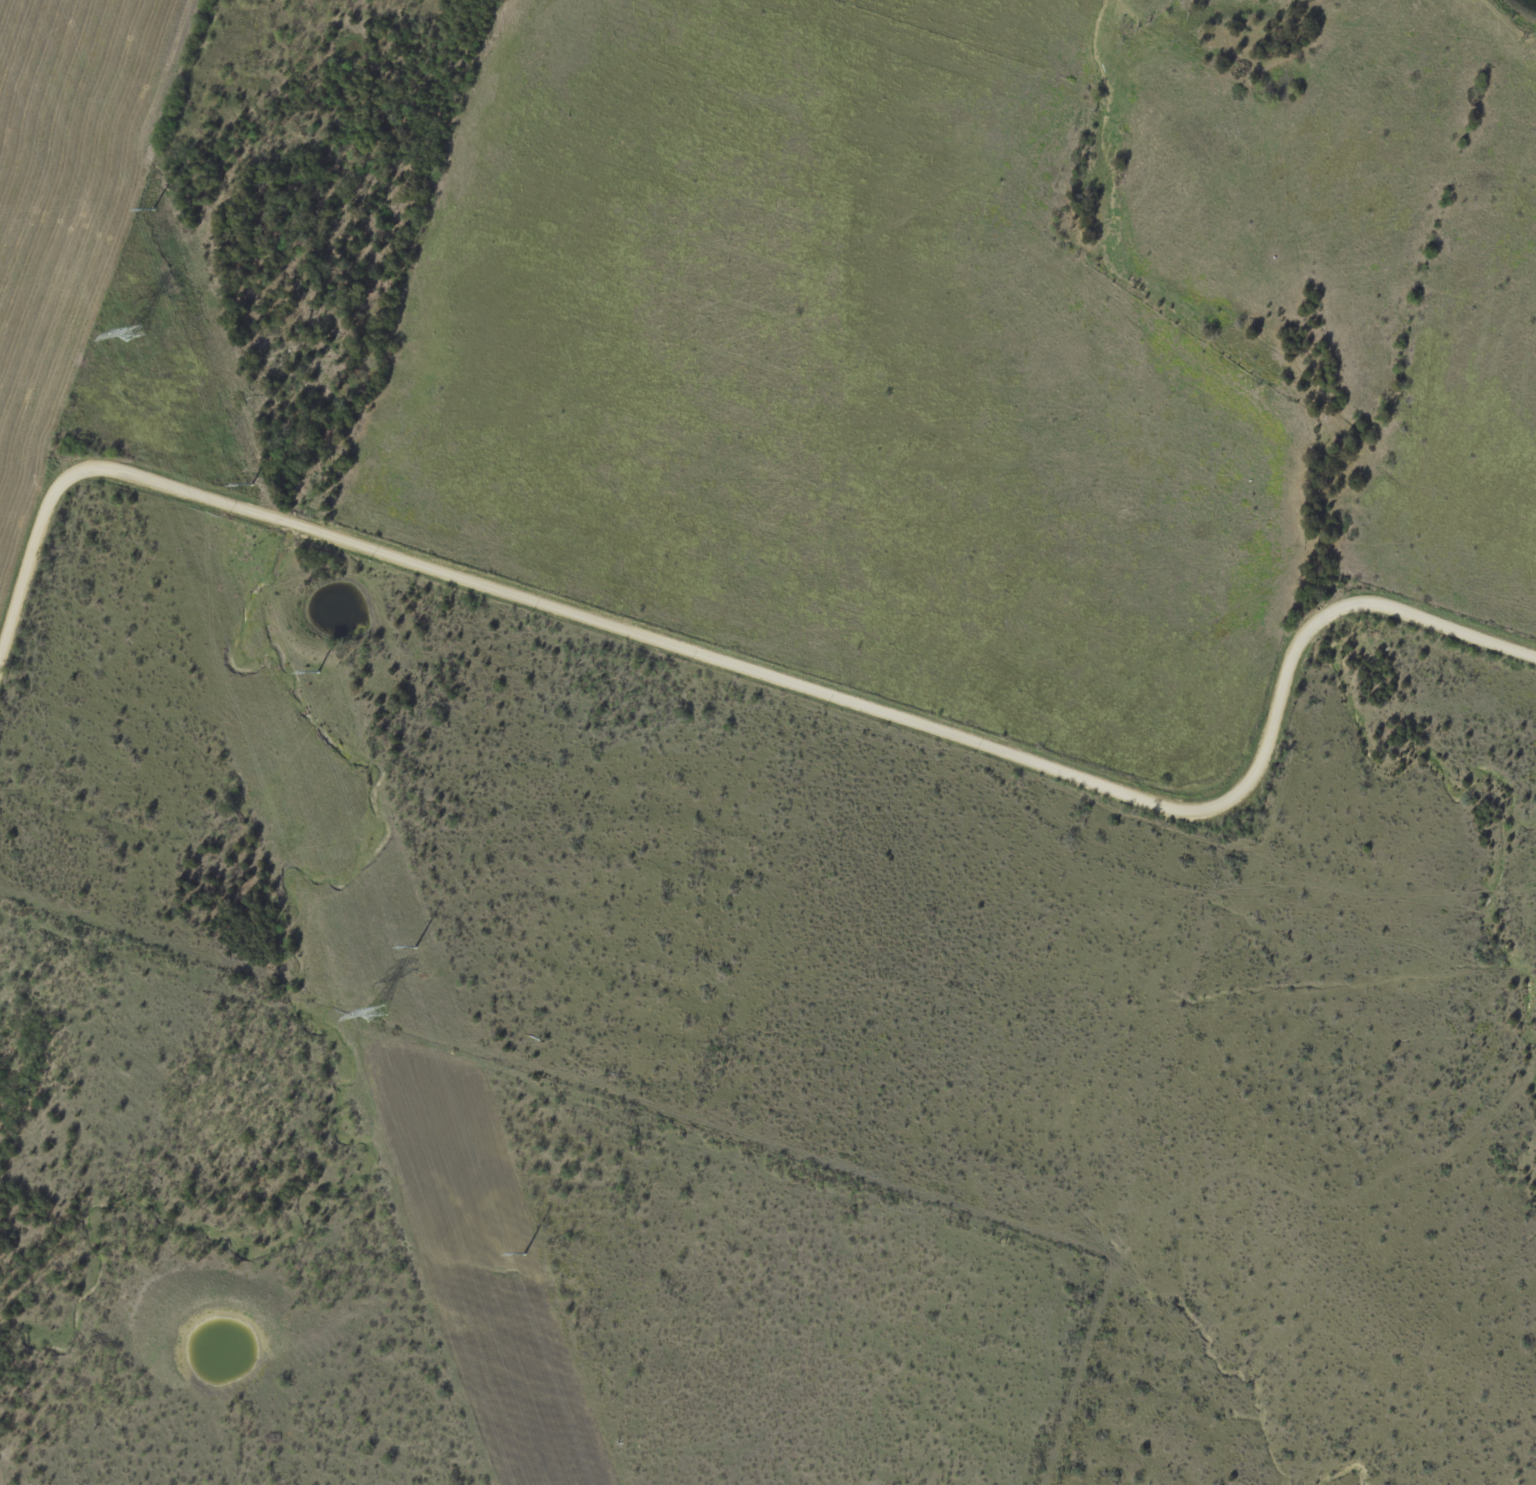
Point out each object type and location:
power tower: (133, 334)
road: (766, 675)
power tower: (374, 1014)

